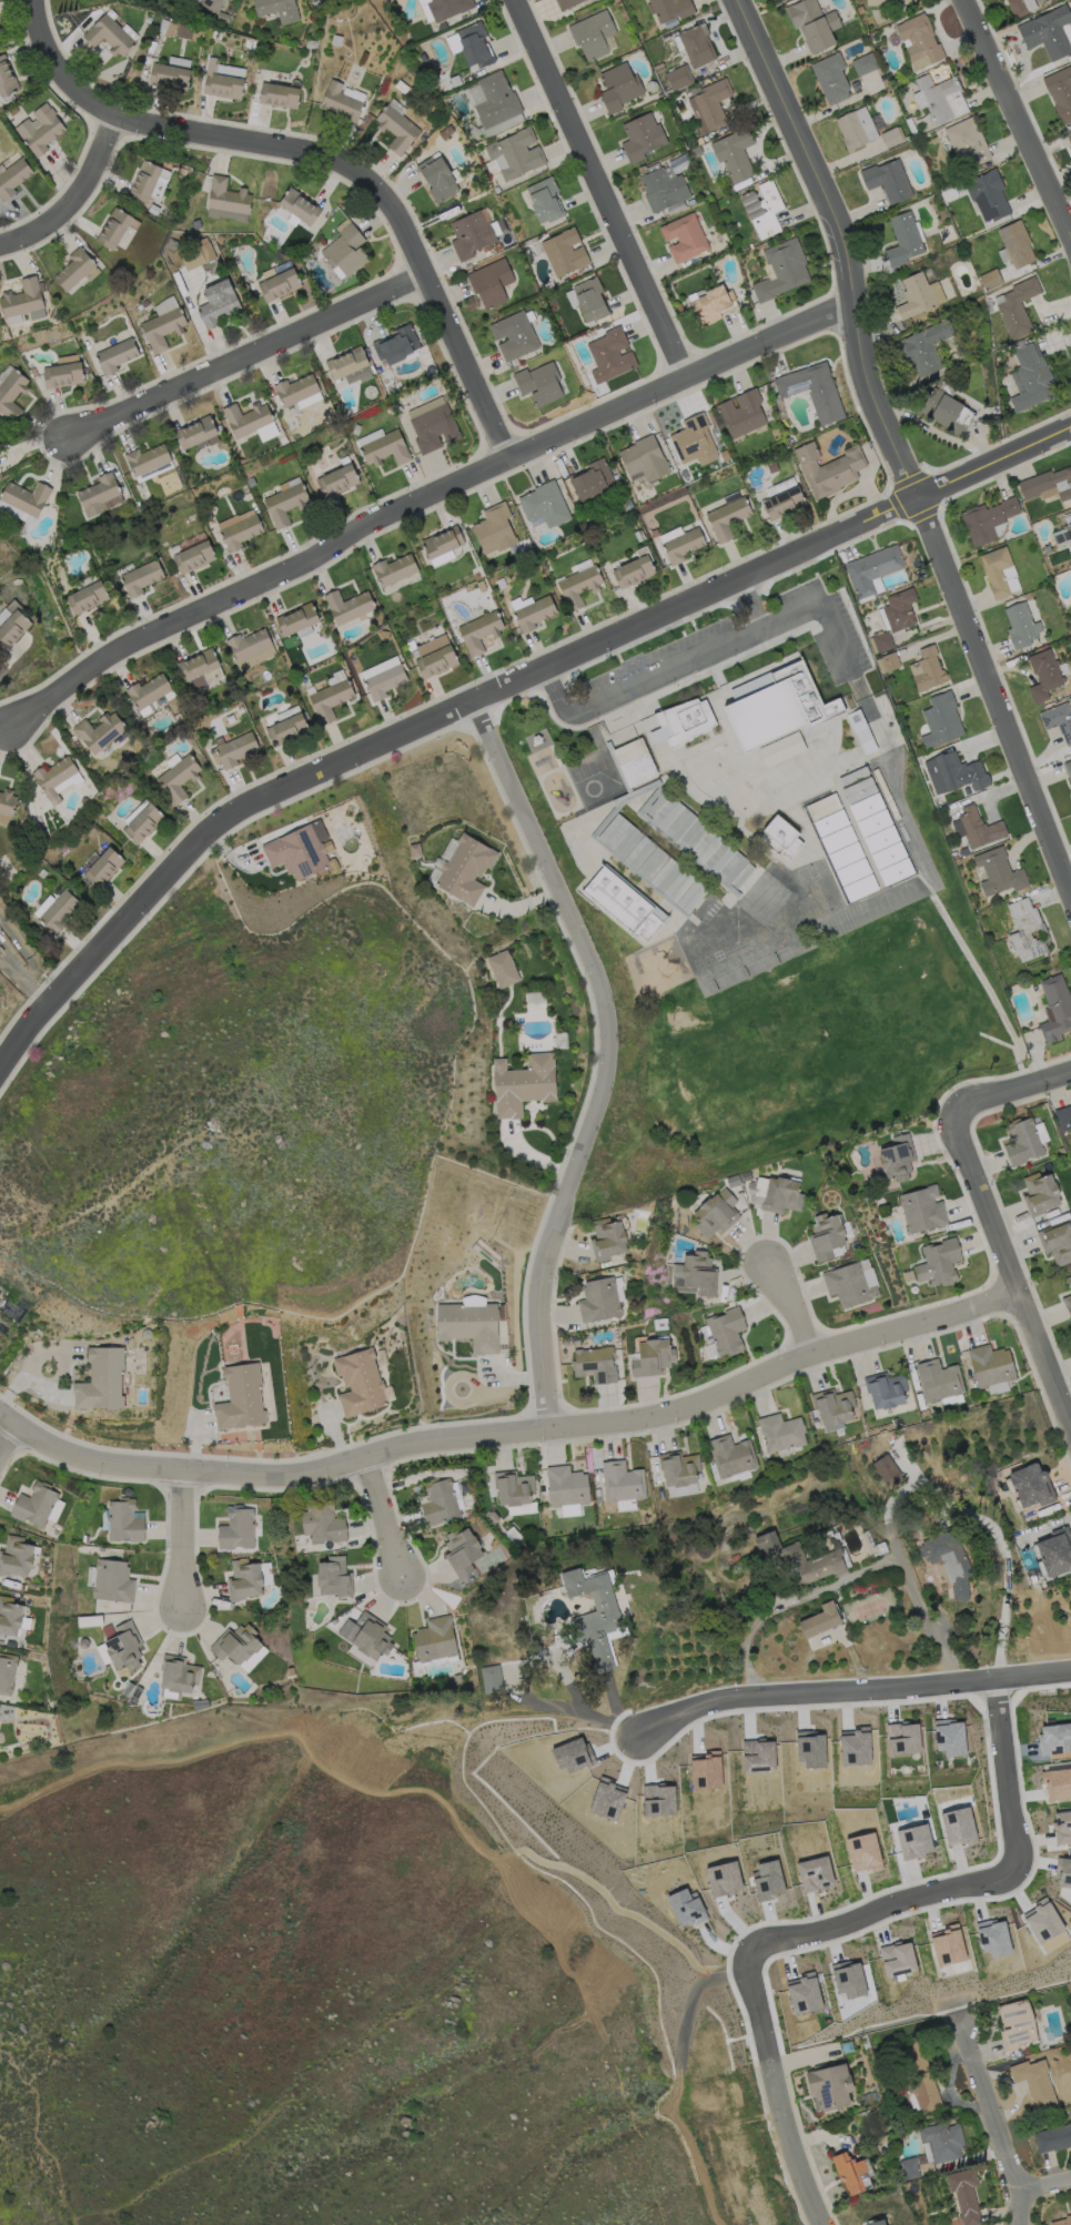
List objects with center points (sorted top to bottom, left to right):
building: (780, 0)
building: (617, 2)
building: (891, 2)
building: (567, 3)
building: (211, 4)
building: (448, 8)
building: (1018, 8)
building: (275, 9)
building: (670, 9)
building: (860, 9)
building: (814, 23)
building: (183, 30)
building: (1048, 32)
building: (107, 34)
building: (593, 34)
building: (920, 39)
building: (475, 44)
building: (697, 45)
building: (865, 64)
building: (721, 65)
building: (168, 74)
building: (6, 77)
building: (679, 78)
building: (831, 78)
building: (222, 79)
building: (455, 81)
building: (402, 87)
building: (619, 87)
building: (651, 87)
building: (1061, 92)
building: (277, 94)
building: (936, 97)
building: (341, 100)
building: (496, 100)
building: (710, 104)
road: (1016, 121)
building: (911, 127)
building: (39, 128)
building: (397, 129)
building: (857, 129)
building: (446, 132)
building: (1068, 133)
building: (423, 138)
building: (641, 138)
building: (892, 138)
building: (909, 138)
building: (699, 141)
building: (968, 141)
building: (696, 152)
building: (516, 153)
building: (735, 153)
road: (325, 156)
building: (12, 176)
building: (438, 179)
building: (888, 180)
building: (146, 181)
road: (605, 188)
building: (664, 190)
building: (989, 194)
road: (75, 195)
building: (225, 200)
building: (545, 200)
building: (299, 205)
building: (764, 209)
building: (112, 229)
building: (472, 235)
building: (685, 237)
building: (903, 240)
building: (1017, 244)
building: (497, 246)
building: (343, 249)
building: (565, 252)
building: (195, 253)
building: (72, 269)
building: (782, 270)
building: (991, 280)
building: (277, 283)
building: (492, 283)
building: (936, 291)
building: (916, 296)
building: (23, 300)
building: (590, 300)
building: (218, 302)
building: (711, 304)
building: (1018, 307)
building: (679, 309)
building: (162, 323)
building: (515, 335)
building: (397, 345)
building: (927, 347)
building: (114, 354)
road: (250, 354)
building: (610, 355)
building: (65, 358)
building: (516, 362)
building: (350, 366)
building: (61, 374)
building: (1032, 378)
building: (539, 384)
building: (295, 390)
building: (814, 391)
building: (10, 393)
building: (598, 393)
building: (943, 411)
building: (741, 413)
building: (249, 419)
building: (434, 428)
building: (356, 429)
building: (195, 433)
building: (368, 435)
building: (695, 441)
building: (788, 441)
road: (892, 447)
building: (386, 449)
building: (645, 458)
building: (146, 461)
building: (772, 467)
building: (829, 468)
building: (592, 479)
building: (337, 481)
building: (1048, 485)
building: (99, 494)
road: (420, 498)
building: (22, 499)
building: (284, 500)
building: (784, 503)
building: (545, 505)
building: (1070, 509)
building: (690, 516)
building: (727, 517)
building: (988, 519)
building: (238, 527)
building: (495, 529)
building: (1068, 533)
building: (639, 535)
building: (443, 543)
building: (683, 545)
building: (1049, 552)
building: (192, 556)
building: (394, 569)
building: (872, 569)
building: (634, 572)
building: (997, 572)
building: (921, 575)
building: (140, 576)
building: (481, 586)
building: (501, 586)
building: (579, 586)
building: (85, 596)
road: (749, 603)
building: (348, 606)
building: (900, 609)
building: (534, 614)
building: (295, 618)
building: (881, 618)
building: (11, 626)
building: (1021, 626)
building: (481, 631)
road: (737, 636)
building: (883, 641)
building: (250, 647)
building: (436, 661)
building: (891, 661)
building: (196, 667)
building: (929, 669)
building: (1044, 675)
road: (546, 676)
building: (385, 681)
road: (494, 691)
building: (146, 692)
road: (555, 696)
building: (331, 699)
building: (778, 706)
road: (575, 710)
building: (286, 711)
building: (686, 720)
building: (1059, 720)
building: (941, 721)
road: (3, 726)
building: (285, 728)
building: (98, 730)
building: (862, 732)
building: (234, 748)
building: (782, 749)
building: (635, 762)
building: (1068, 768)
building: (954, 773)
building: (853, 776)
building: (55, 777)
building: (176, 777)
building: (859, 790)
building: (1070, 792)
building: (886, 793)
building: (941, 802)
building: (4, 805)
building: (824, 807)
building: (867, 807)
building: (140, 820)
building: (831, 822)
building: (873, 822)
building: (977, 828)
building: (781, 838)
building: (839, 839)
building: (881, 839)
building: (699, 840)
building: (415, 850)
building: (295, 851)
building: (846, 856)
building: (889, 856)
building: (954, 856)
building: (653, 863)
building: (102, 866)
building: (466, 870)
building: (896, 871)
building: (853, 872)
building: (999, 872)
building: (860, 888)
building: (625, 902)
building: (54, 908)
building: (1027, 931)
building: (504, 969)
building: (1034, 987)
building: (1055, 1009)
road: (608, 1054)
building: (524, 1084)
road: (1014, 1089)
building: (1063, 1117)
building: (1023, 1142)
building: (1062, 1151)
building: (898, 1159)
building: (747, 1176)
building: (732, 1181)
building: (1041, 1193)
building: (776, 1194)
building: (923, 1210)
building: (716, 1214)
building: (826, 1236)
building: (608, 1238)
building: (1057, 1243)
building: (939, 1263)
road: (1009, 1267)
building: (866, 1271)
building: (698, 1273)
building: (908, 1276)
building: (1069, 1282)
building: (848, 1285)
building: (472, 1298)
building: (599, 1301)
building: (1068, 1304)
road: (794, 1309)
building: (469, 1326)
building: (727, 1332)
building: (653, 1357)
building: (595, 1364)
building: (991, 1365)
building: (100, 1379)
building: (940, 1380)
building: (361, 1383)
building: (886, 1389)
building: (239, 1397)
building: (833, 1406)
road: (509, 1432)
building: (782, 1433)
road: (9, 1440)
building: (731, 1456)
building: (679, 1468)
building: (888, 1469)
building: (699, 1475)
building: (623, 1483)
building: (567, 1486)
building: (1032, 1486)
building: (514, 1488)
building: (680, 1489)
building: (598, 1495)
building: (441, 1501)
building: (33, 1504)
road: (890, 1508)
building: (468, 1514)
road: (385, 1517)
building: (123, 1520)
building: (323, 1524)
building: (235, 1528)
building: (750, 1530)
road: (185, 1540)
building: (463, 1551)
building: (1055, 1551)
building: (948, 1554)
building: (14, 1556)
building: (736, 1558)
building: (799, 1560)
building: (335, 1577)
building: (110, 1579)
building: (243, 1579)
building: (960, 1591)
building: (594, 1615)
building: (9, 1617)
road: (926, 1619)
building: (821, 1620)
building: (335, 1621)
building: (367, 1636)
building: (435, 1640)
building: (234, 1644)
building: (122, 1646)
building: (6, 1671)
building: (176, 1673)
building: (492, 1679)
road: (848, 1692)
building: (948, 1736)
building: (1055, 1737)
building: (901, 1738)
road: (1010, 1776)
building: (1059, 1782)
road: (10, 1813)
building: (1062, 1820)
road: (494, 1871)
building: (1064, 1879)
road: (824, 1920)
building: (1043, 1924)
road: (653, 1949)
building: (1016, 2024)
road: (600, 2031)
building: (866, 2042)
building: (919, 2076)
building: (1035, 2082)
building: (830, 2086)
road: (993, 2121)
road: (38, 2135)
building: (1053, 2138)
building: (943, 2142)
road: (789, 2145)
building: (909, 2168)
building: (927, 2168)
building: (849, 2173)
road: (1044, 2188)
building: (966, 2195)
building: (1062, 2222)
building: (877, 2223)

